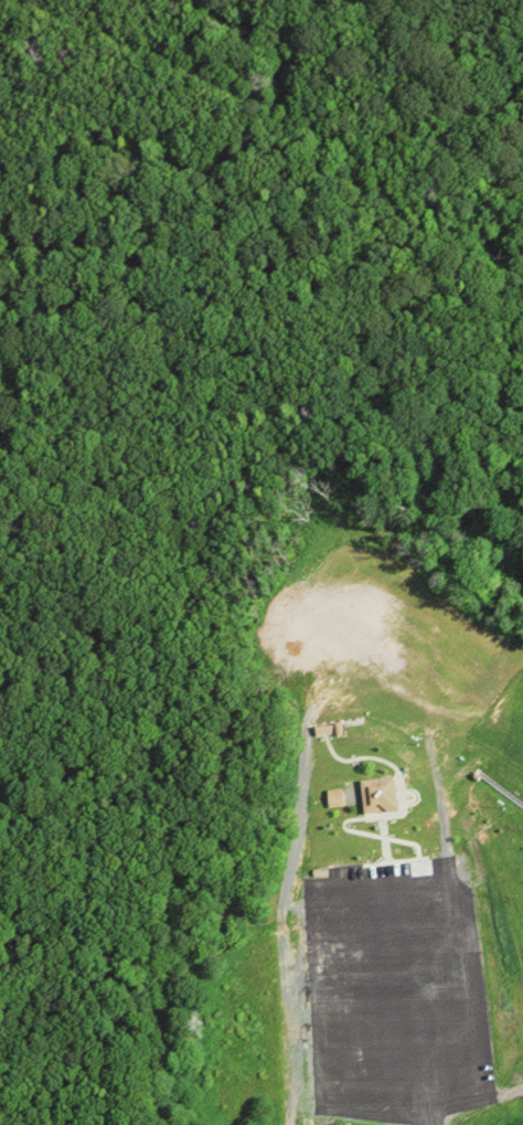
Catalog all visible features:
parking lot: (388, 989)
road: (519, 1018)
road: (477, 1096)

